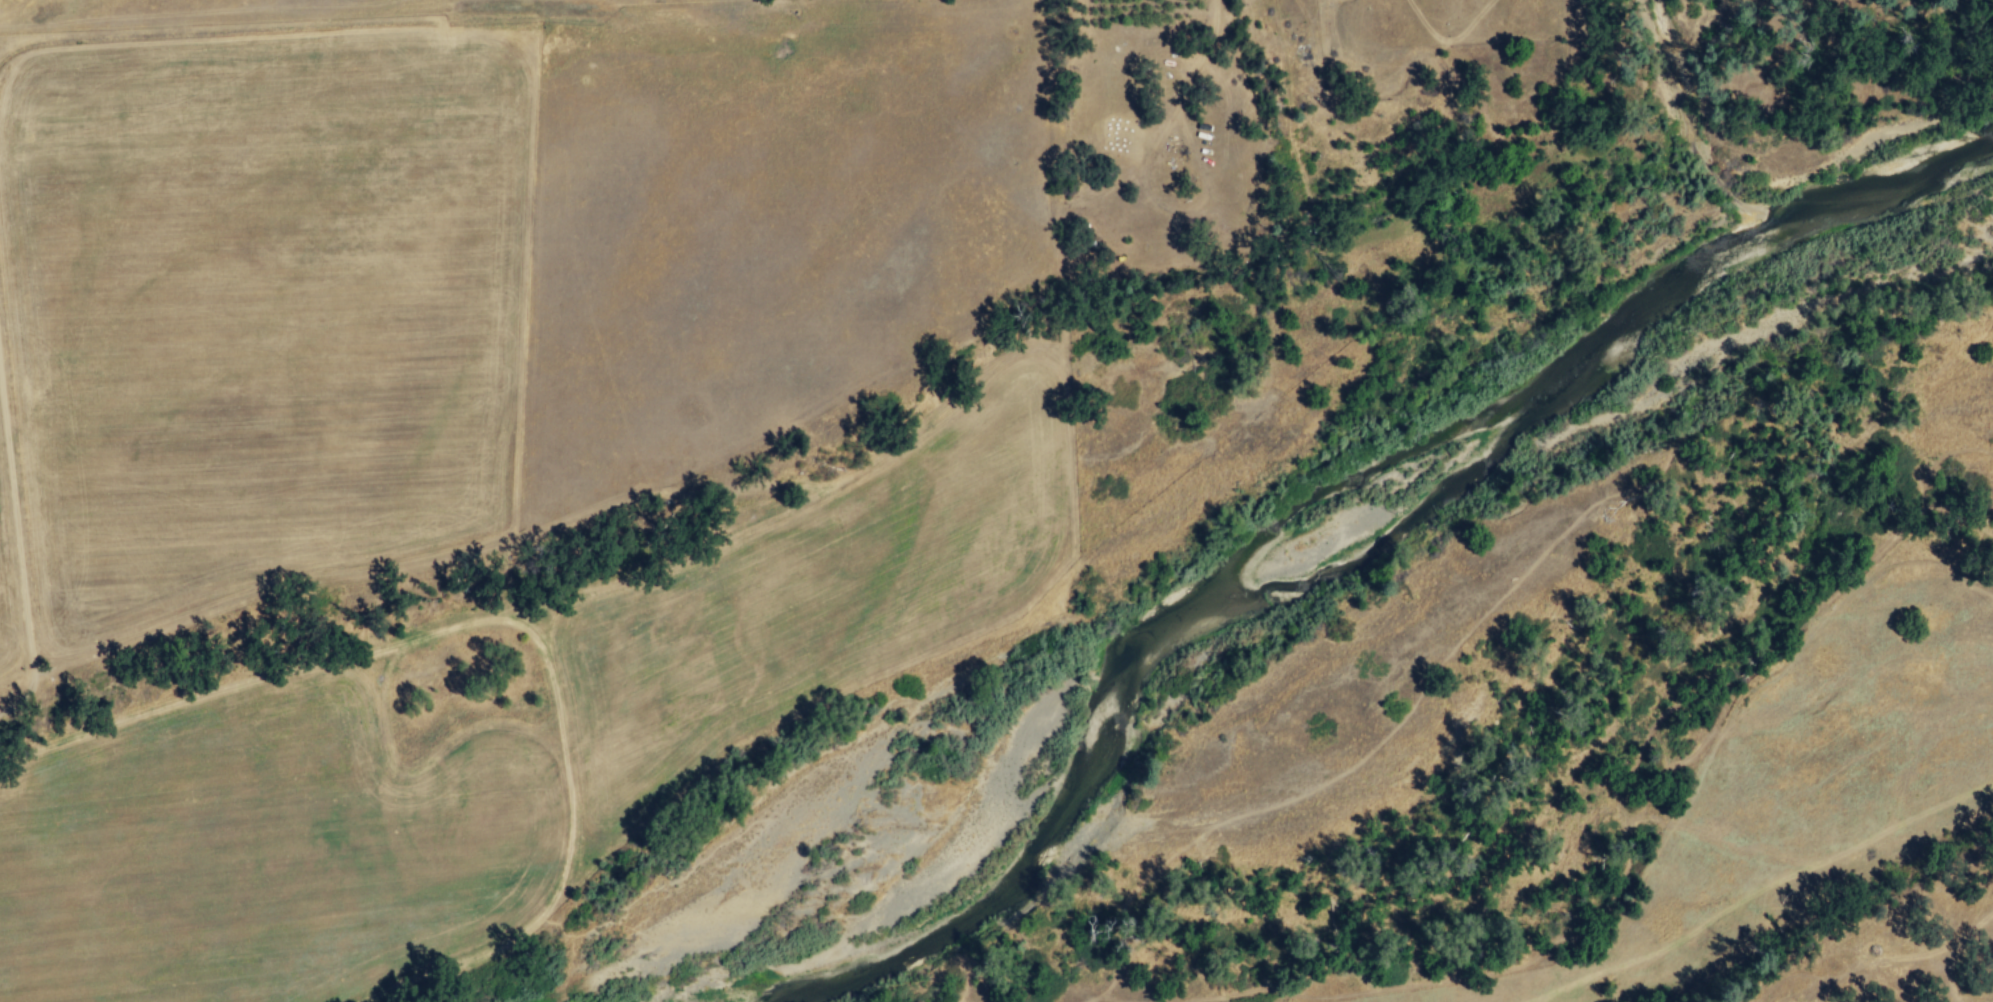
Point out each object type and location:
river: (1691, 125)
river: (1880, 192)
river: (1643, 297)
road: (16, 527)
river: (1213, 609)
river: (872, 966)

